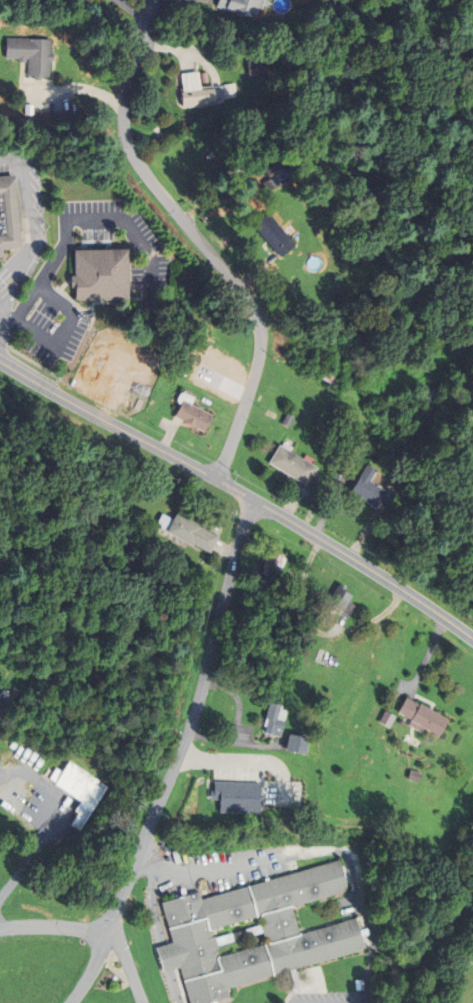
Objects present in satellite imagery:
building: (242, 7)
building: (32, 56)
building: (256, 70)
building: (196, 92)
road: (13, 157)
building: (276, 178)
building: (9, 215)
road: (71, 217)
building: (276, 237)
road: (197, 239)
road: (31, 249)
building: (101, 276)
road: (66, 334)
building: (330, 375)
building: (431, 395)
building: (194, 417)
building: (294, 464)
road: (240, 494)
building: (189, 529)
building: (274, 563)
building: (263, 591)
building: (342, 599)
building: (334, 659)
airport: (6, 665)
building: (3, 697)
building: (424, 715)
building: (275, 718)
road: (237, 719)
building: (299, 742)
building: (339, 744)
road: (177, 758)
road: (244, 761)
building: (79, 791)
building: (238, 796)
building: (354, 800)
road: (33, 852)
road: (203, 872)
road: (52, 926)
building: (253, 932)
road: (132, 959)

